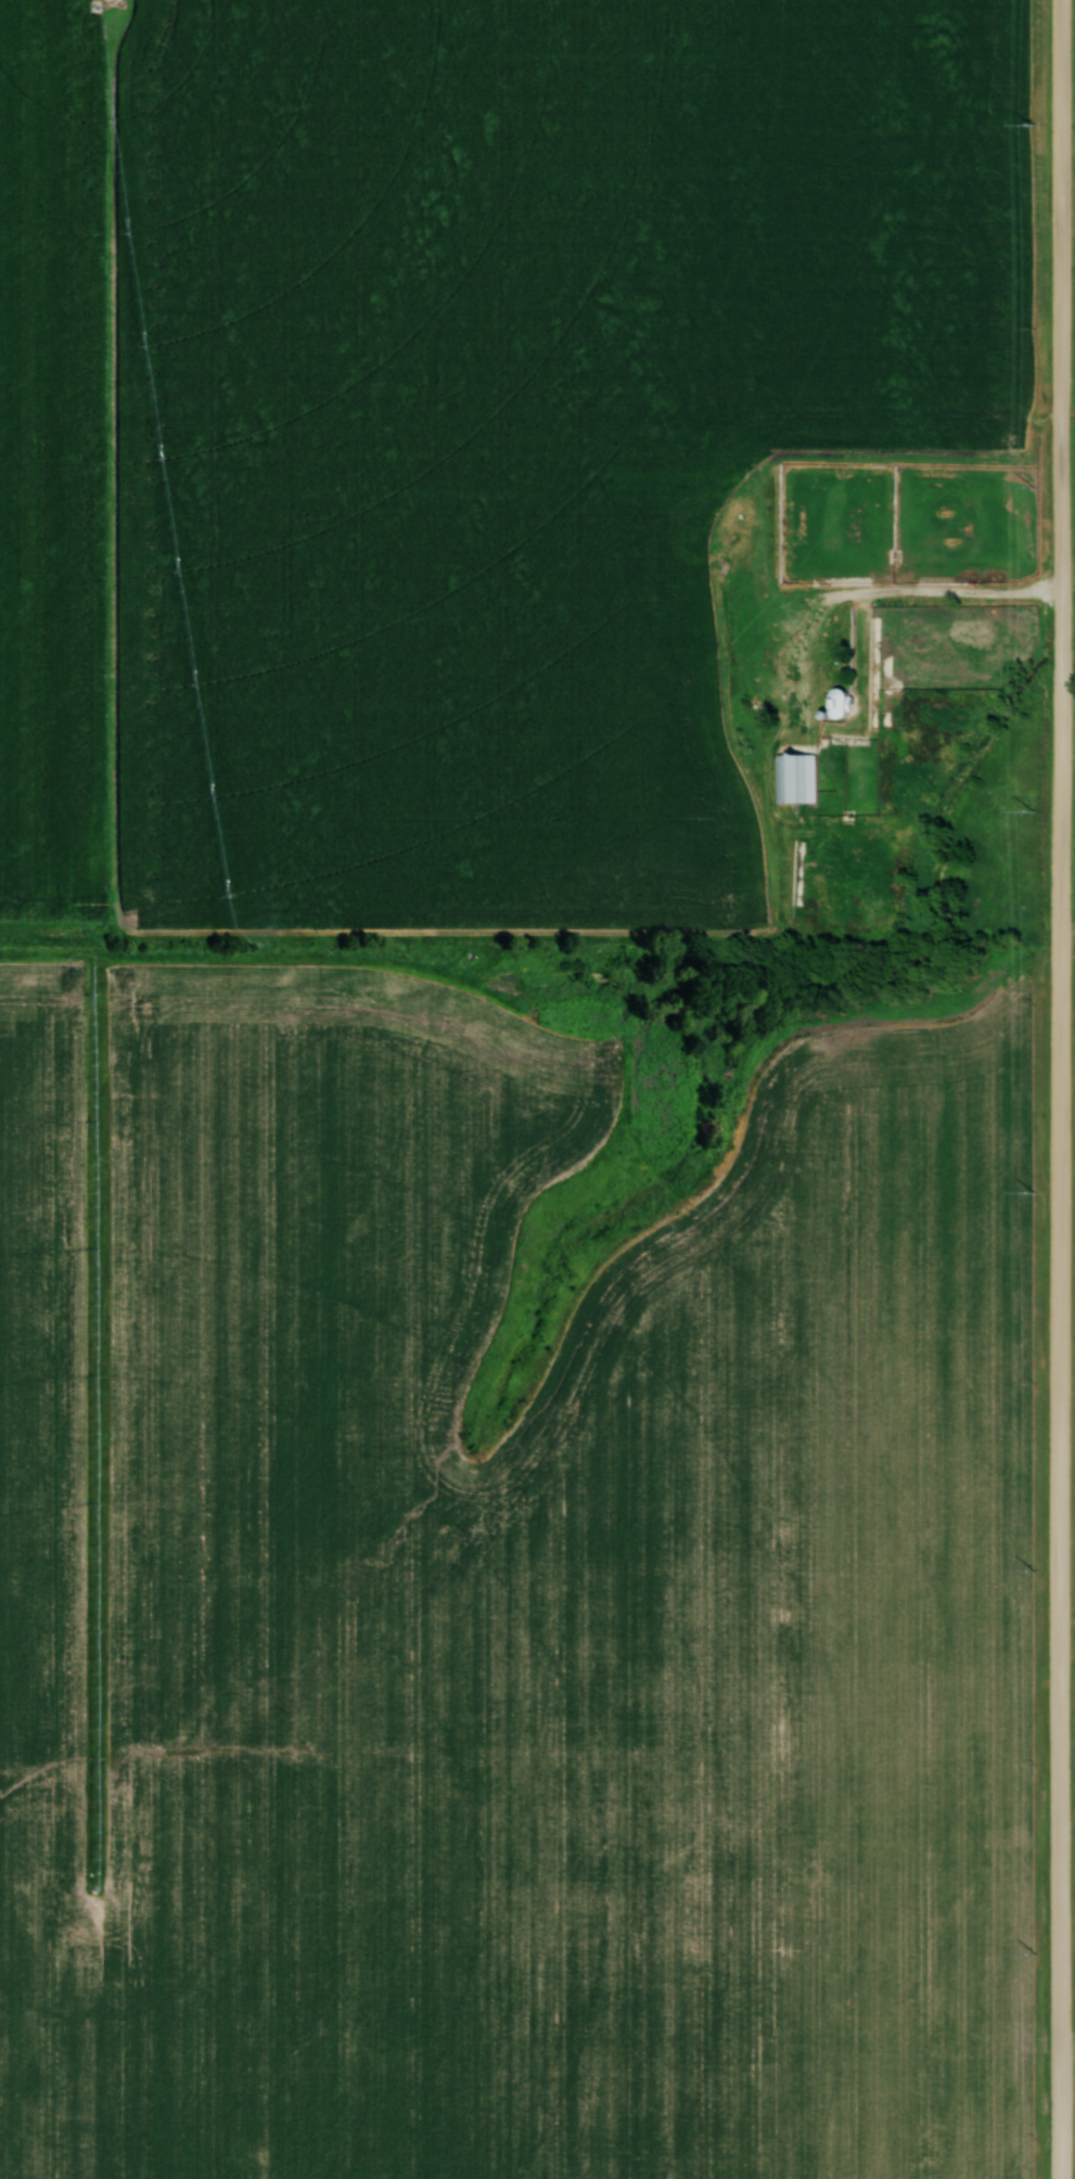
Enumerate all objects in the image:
road: (916, 598)
building: (796, 778)
road: (1062, 1089)

